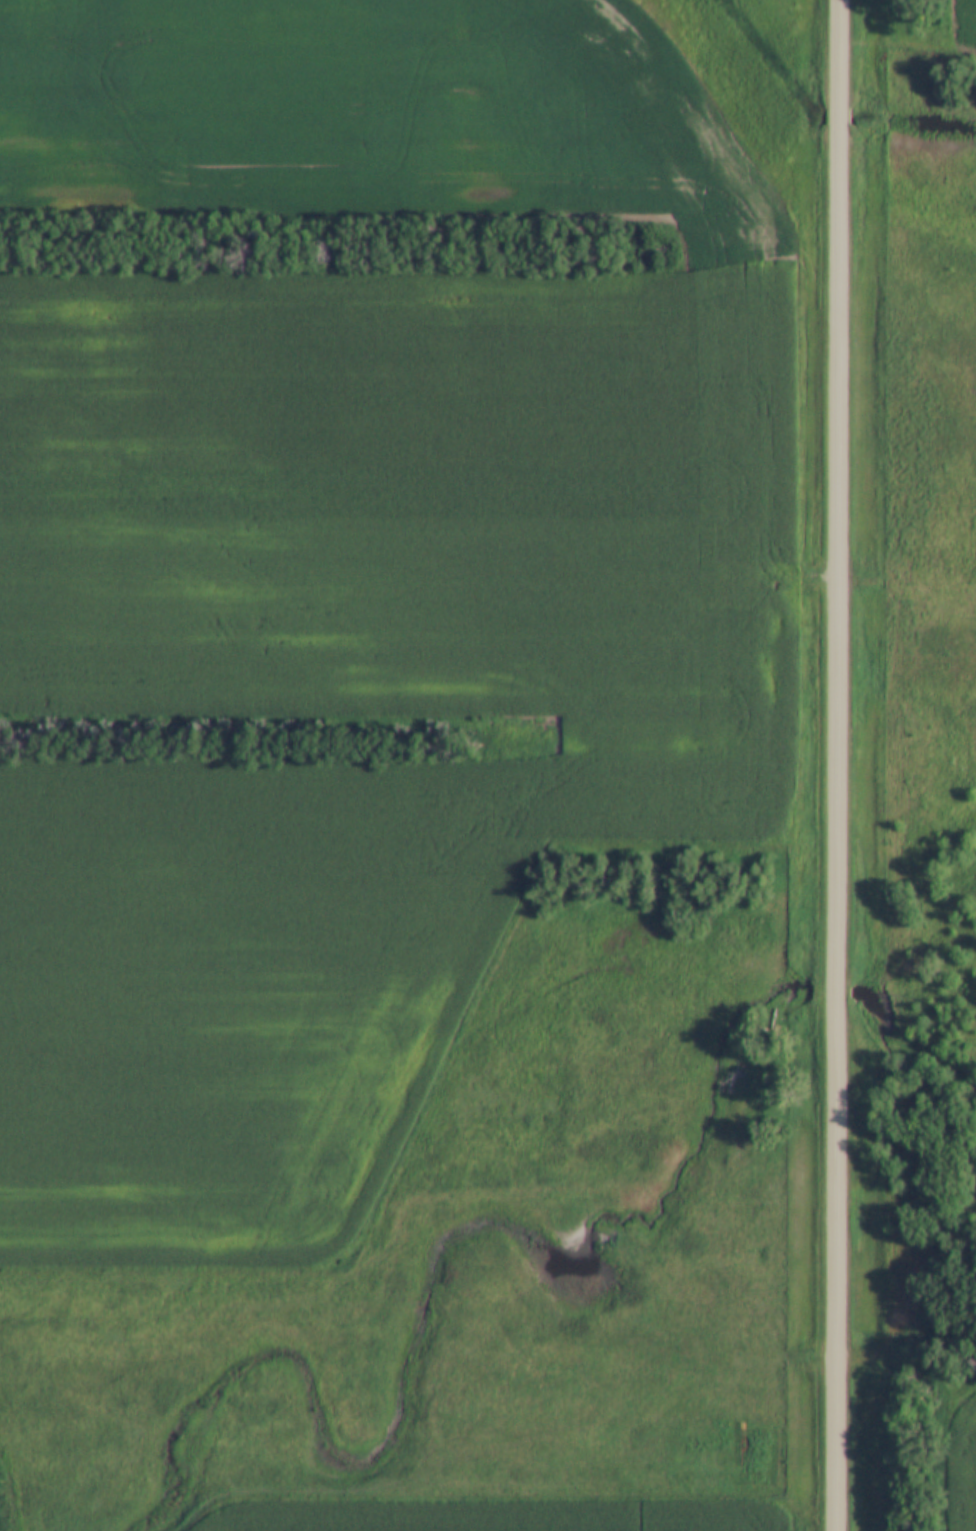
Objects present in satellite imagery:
road: (830, 765)

